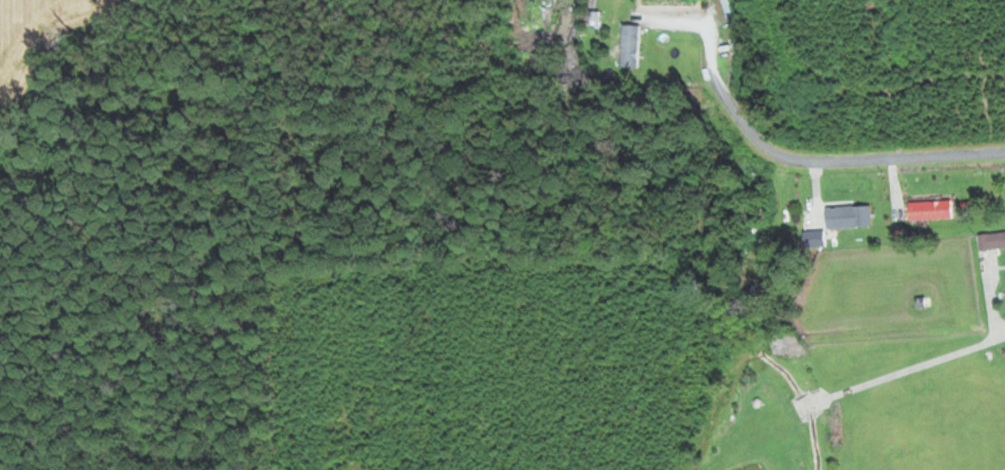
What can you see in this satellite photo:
building: (725, 8)
building: (628, 46)
road: (832, 161)
building: (757, 207)
building: (929, 209)
building: (846, 216)
building: (989, 241)
road: (997, 320)

